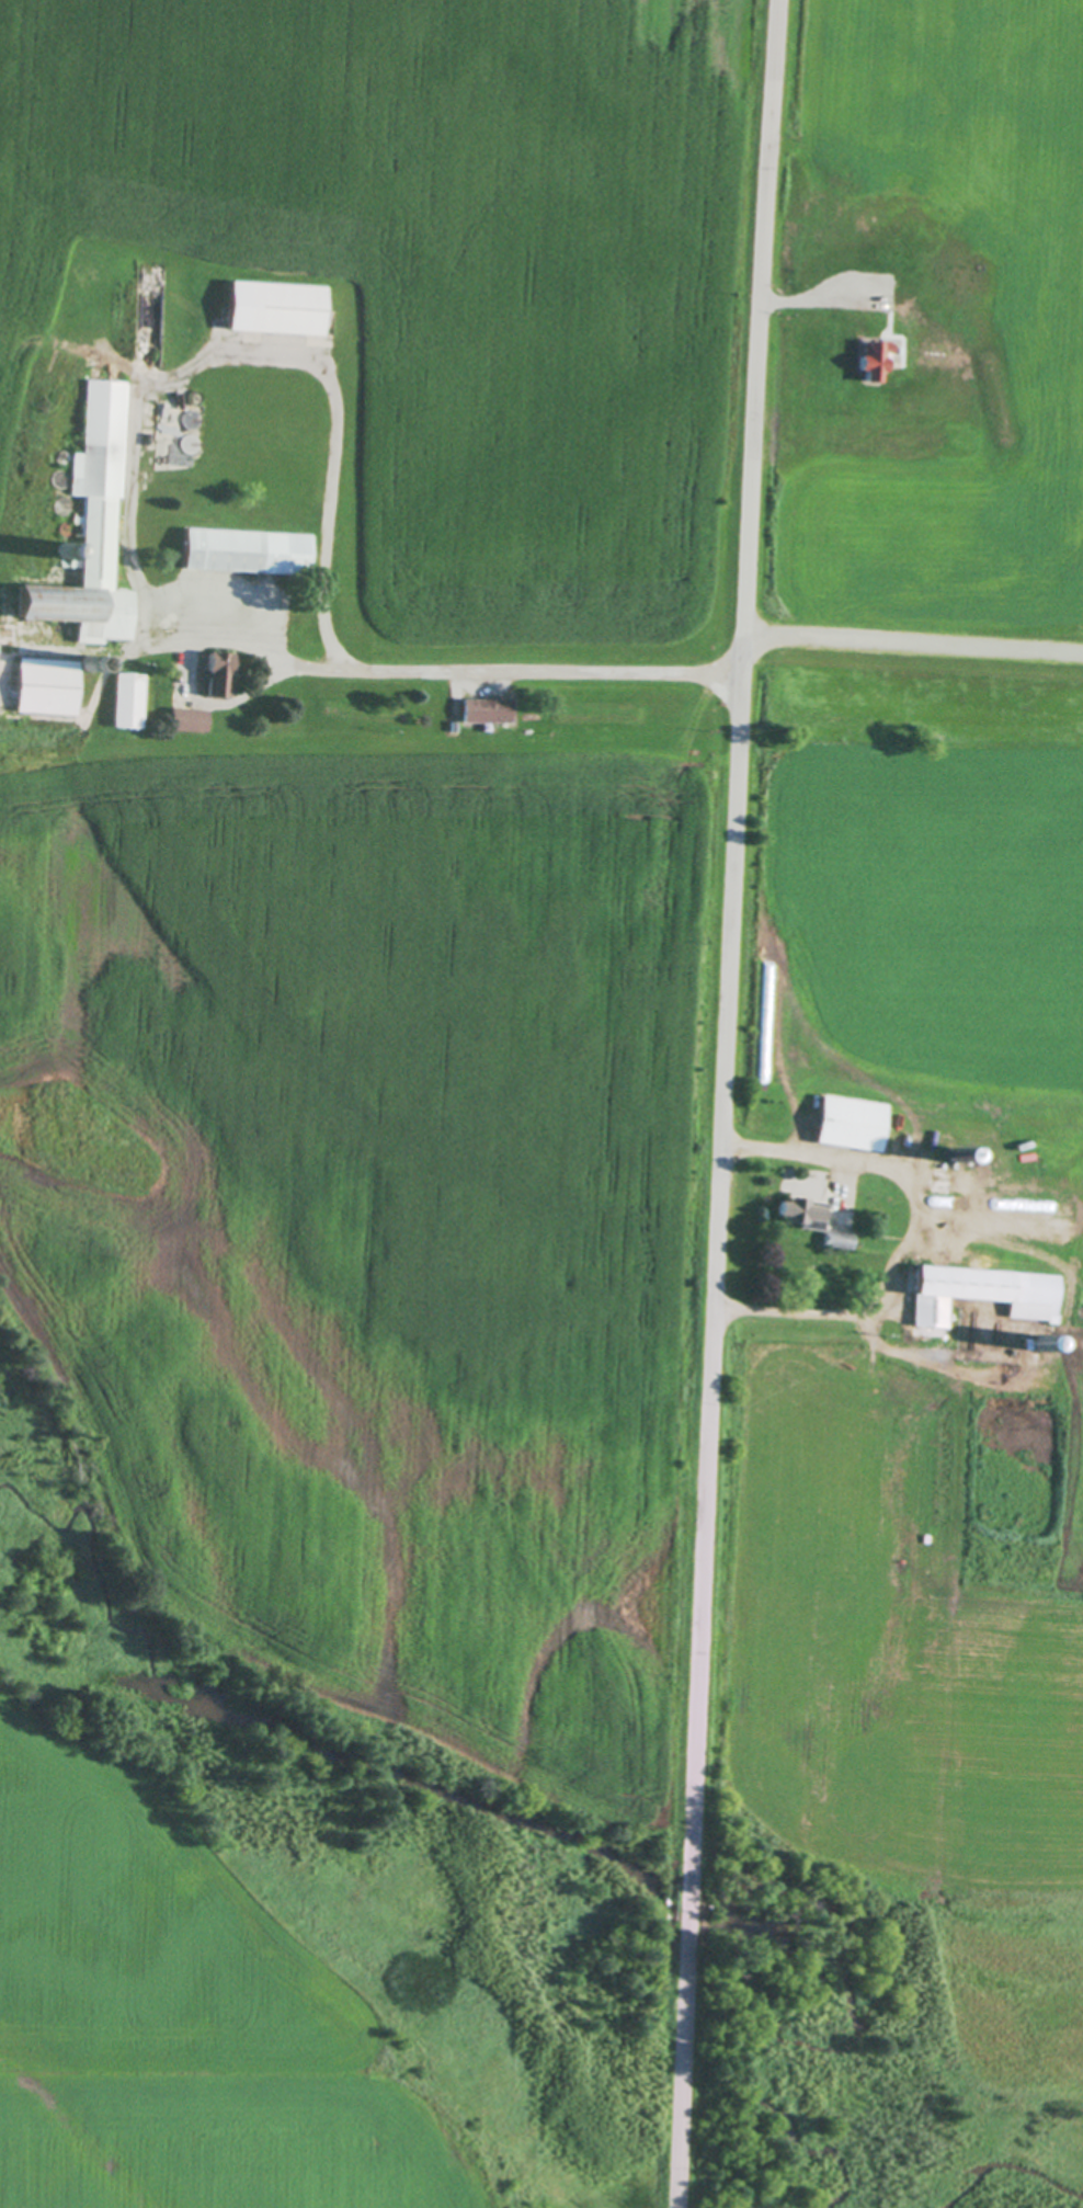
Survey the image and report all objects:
building: (788, 262)
building: (876, 294)
road: (794, 301)
building: (274, 309)
building: (870, 360)
road: (326, 397)
building: (246, 422)
building: (86, 528)
building: (246, 554)
road: (911, 638)
road: (538, 672)
building: (218, 673)
building: (46, 687)
building: (125, 702)
building: (485, 712)
building: (189, 721)
road: (719, 1103)
building: (850, 1126)
building: (964, 1186)
building: (800, 1215)
road: (913, 1232)
building: (836, 1242)
building: (974, 1291)

